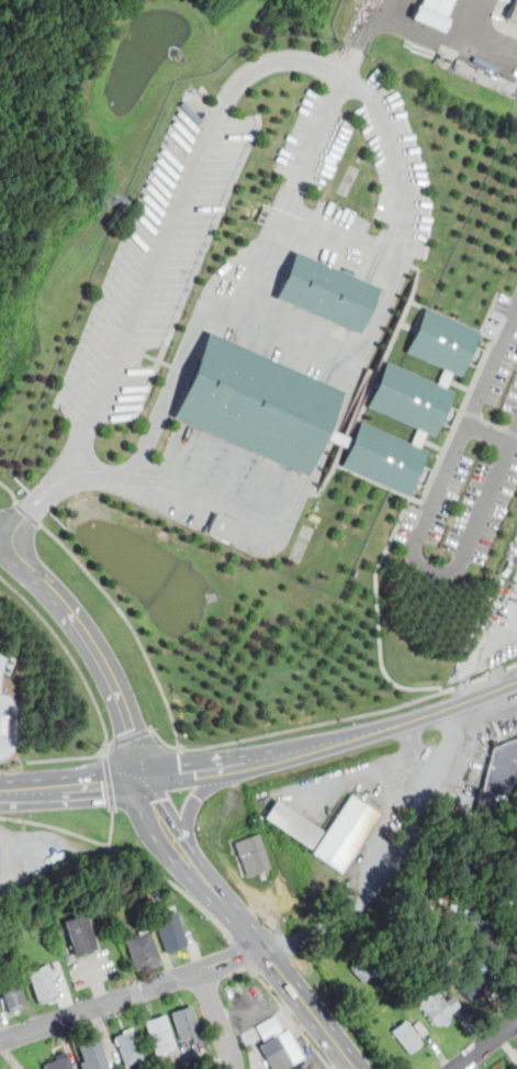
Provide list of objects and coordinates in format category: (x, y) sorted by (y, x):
building: (432, 13)
building: (514, 13)
road: (387, 18)
road: (473, 22)
road: (368, 99)
road: (292, 196)
power tower: (105, 199)
road: (403, 201)
road: (166, 237)
road: (335, 248)
building: (328, 293)
road: (202, 304)
road: (351, 390)
building: (327, 407)
road: (463, 410)
road: (473, 413)
road: (493, 423)
road: (512, 430)
road: (333, 438)
road: (10, 490)
road: (425, 498)
road: (34, 502)
road: (22, 506)
road: (249, 511)
road: (33, 516)
road: (425, 523)
building: (224, 526)
road: (13, 533)
road: (10, 550)
road: (131, 623)
road: (74, 657)
road: (101, 658)
road: (442, 710)
building: (2, 724)
road: (314, 725)
road: (133, 736)
road: (165, 740)
road: (295, 749)
road: (66, 757)
building: (502, 767)
road: (183, 771)
traffic signals: (145, 778)
road: (109, 779)
road: (382, 783)
road: (88, 786)
road: (15, 790)
building: (487, 804)
road: (191, 810)
road: (162, 823)
road: (112, 825)
road: (55, 826)
building: (292, 827)
building: (346, 837)
building: (255, 858)
road: (16, 859)
road: (397, 860)
road: (177, 884)
building: (515, 901)
building: (515, 911)
building: (172, 932)
building: (82, 935)
building: (496, 946)
building: (145, 951)
road: (244, 954)
road: (276, 965)
building: (367, 968)
building: (44, 983)
building: (471, 987)
building: (12, 994)
road: (131, 994)
building: (440, 1009)
road: (292, 1017)
road: (217, 1018)
building: (188, 1024)
building: (422, 1029)
building: (161, 1036)
building: (407, 1037)
road: (487, 1044)
building: (131, 1047)
building: (282, 1050)
building: (94, 1055)
building: (61, 1062)

